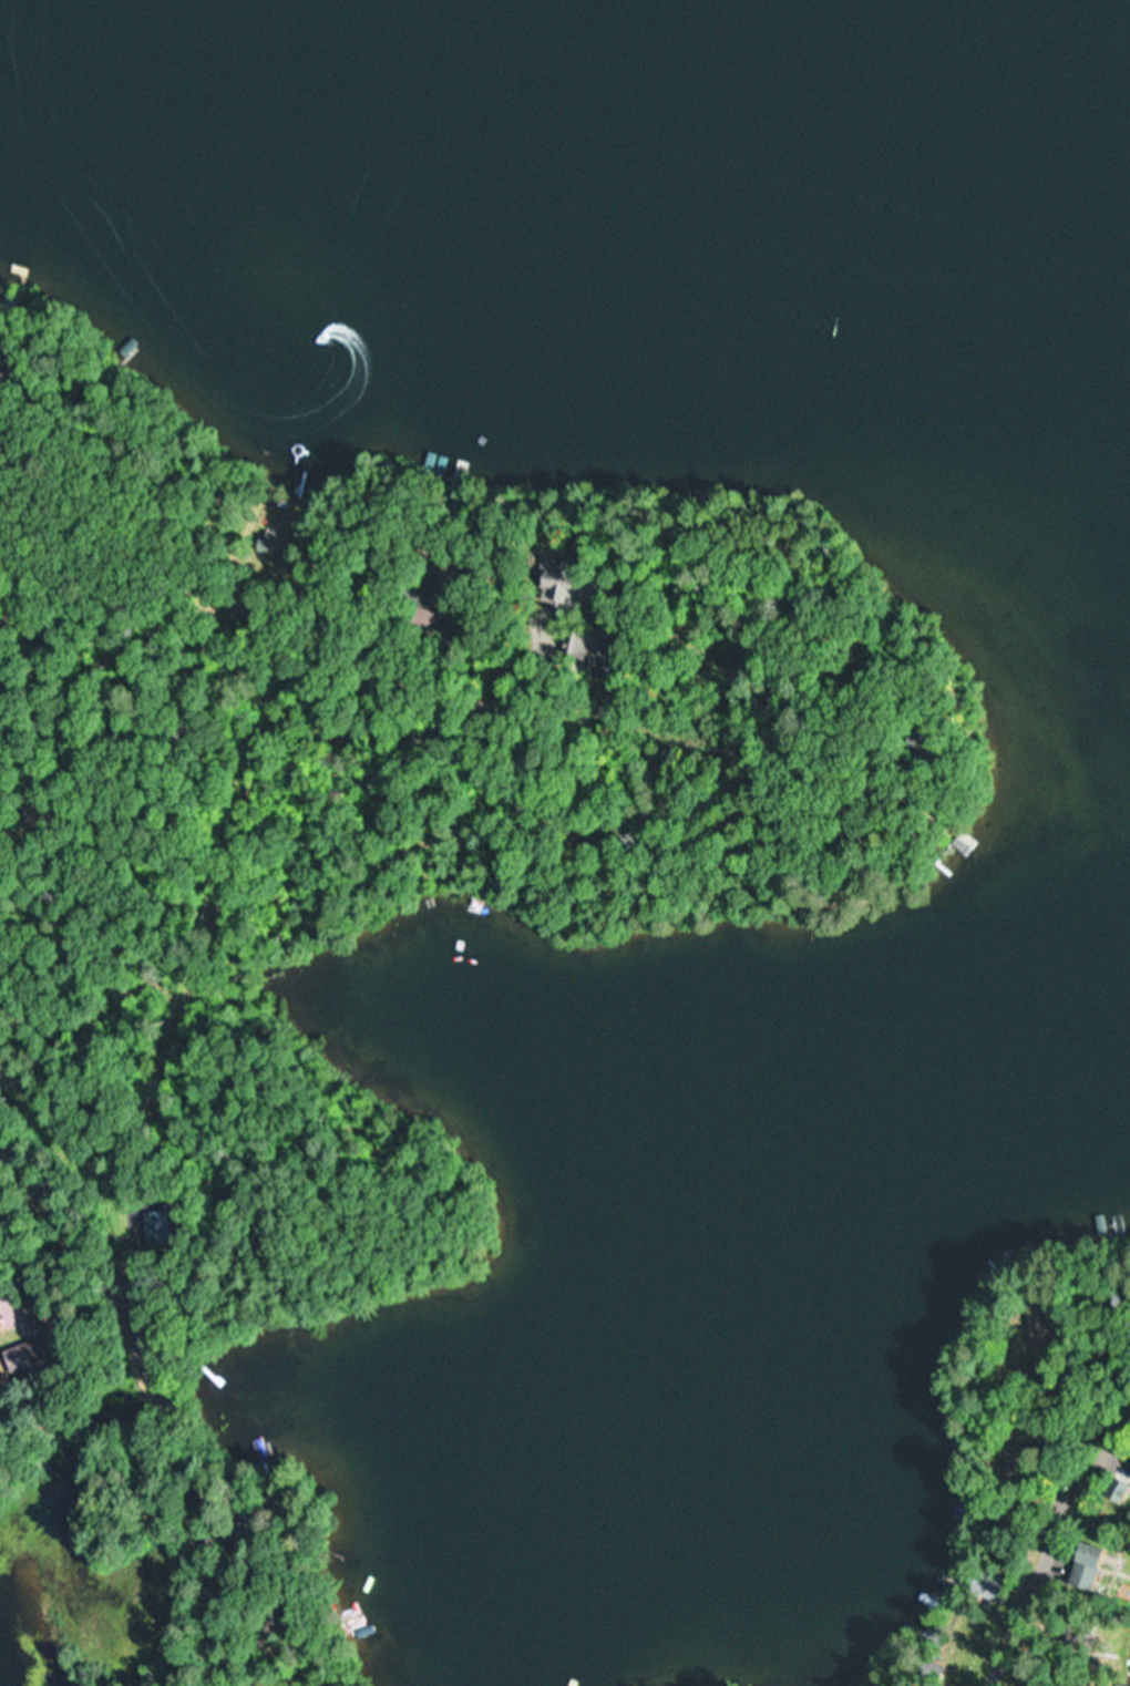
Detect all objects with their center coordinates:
building: (556, 583)
building: (422, 621)
building: (576, 646)
road: (305, 739)
building: (160, 1220)
building: (23, 1357)
road: (157, 1392)
building: (1128, 1474)
road: (1051, 1534)
building: (1049, 1560)
building: (1080, 1569)

